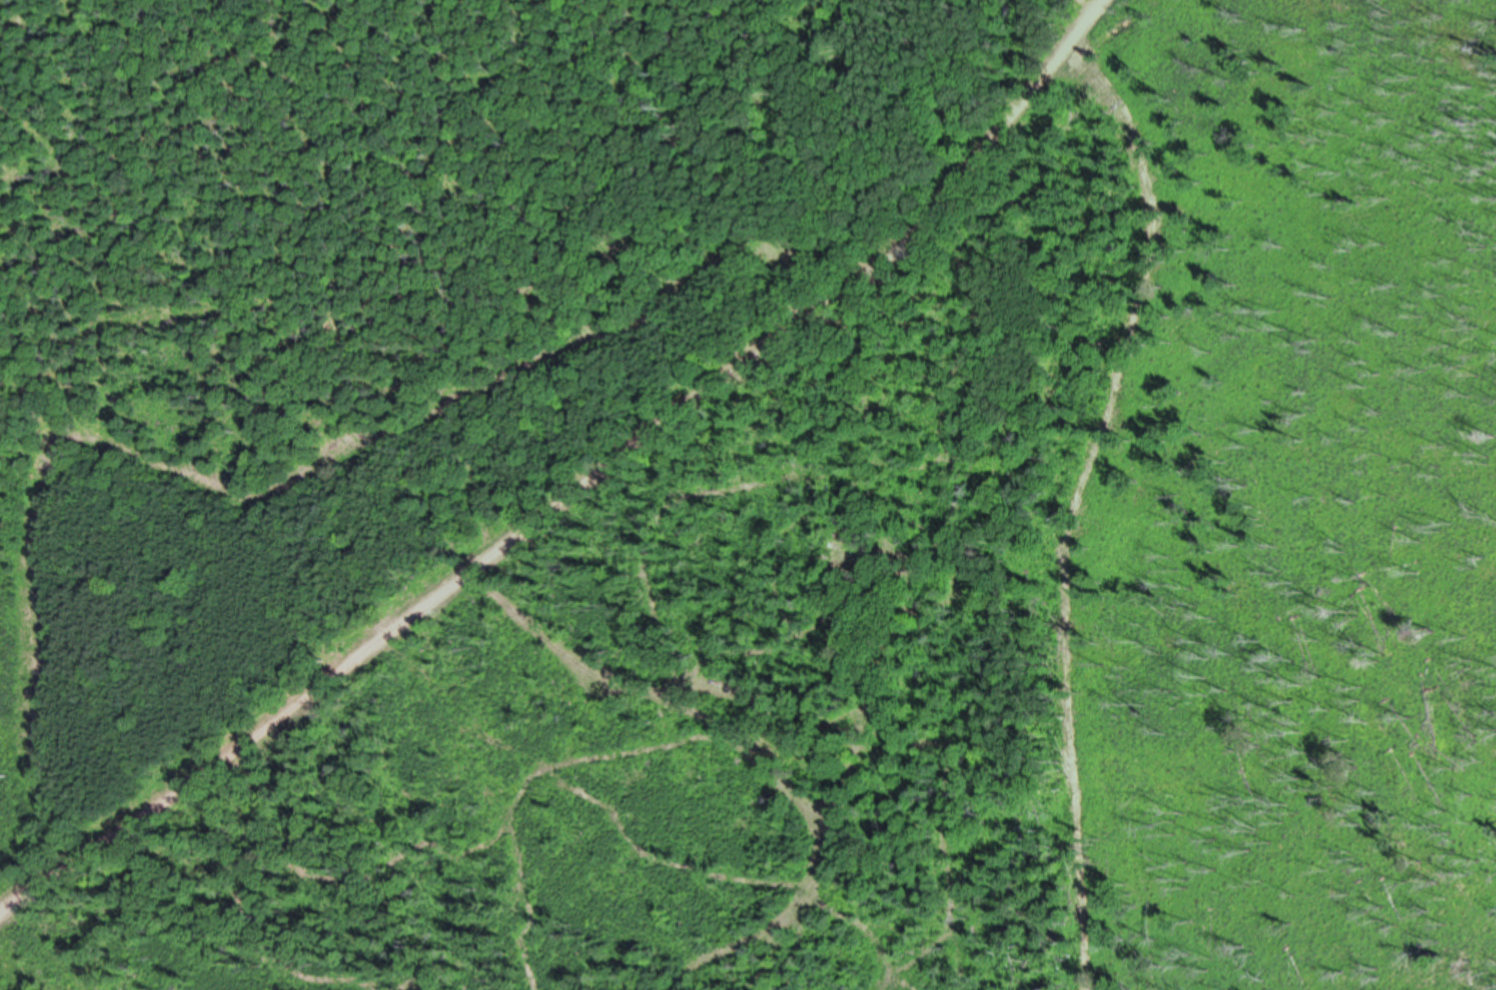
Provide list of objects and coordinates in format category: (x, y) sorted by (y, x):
road: (581, 488)
building: (852, 528)
building: (871, 555)

